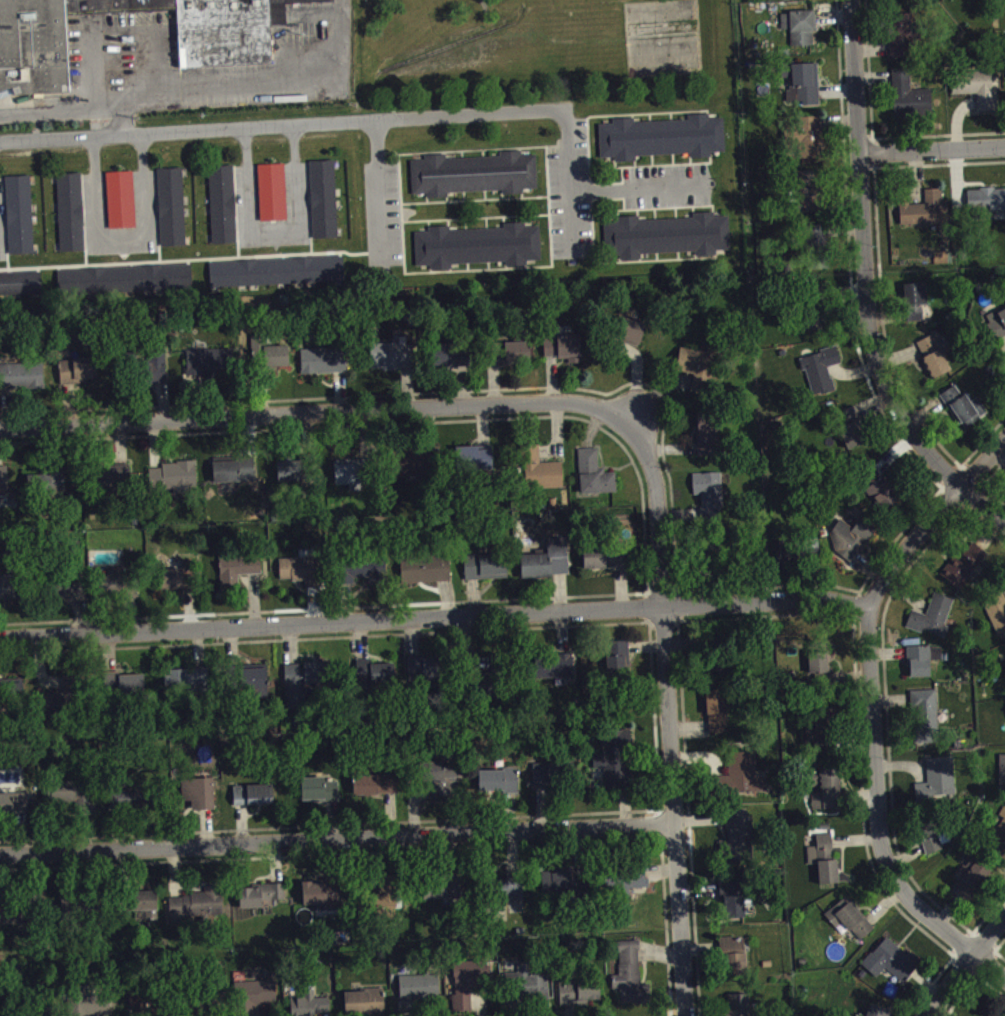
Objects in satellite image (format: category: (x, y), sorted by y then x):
building: (789, 0)
road: (97, 7)
road: (98, 21)
parking lot: (318, 37)
building: (903, 41)
building: (223, 46)
parking lot: (110, 50)
road: (203, 79)
building: (804, 88)
building: (978, 93)
parking lot: (243, 98)
building: (911, 101)
road: (122, 118)
road: (282, 125)
building: (660, 136)
building: (811, 143)
road: (934, 154)
building: (472, 172)
road: (568, 179)
parking lot: (666, 185)
road: (377, 186)
road: (634, 186)
parking lot: (295, 191)
parking lot: (569, 191)
building: (321, 197)
building: (810, 197)
parking lot: (144, 198)
building: (274, 198)
building: (221, 202)
building: (122, 205)
building: (169, 205)
building: (987, 206)
building: (69, 209)
parking lot: (381, 212)
building: (17, 213)
building: (927, 215)
parking lot: (1, 223)
road: (272, 225)
road: (120, 234)
building: (664, 234)
building: (475, 245)
building: (942, 263)
building: (275, 270)
building: (123, 278)
building: (19, 282)
road: (869, 285)
building: (915, 308)
building: (812, 326)
building: (996, 327)
building: (630, 336)
building: (930, 350)
building: (564, 353)
building: (512, 357)
building: (272, 362)
building: (393, 362)
building: (451, 362)
building: (211, 367)
building: (325, 367)
building: (937, 370)
building: (157, 374)
building: (698, 374)
building: (80, 376)
building: (822, 377)
building: (22, 382)
road: (319, 412)
building: (965, 413)
building: (852, 434)
building: (709, 440)
building: (475, 464)
building: (414, 468)
building: (235, 475)
building: (541, 475)
building: (291, 478)
building: (351, 479)
building: (596, 480)
building: (175, 483)
building: (4, 485)
building: (116, 485)
building: (880, 494)
building: (710, 501)
building: (0, 512)
road: (935, 524)
building: (851, 544)
building: (812, 556)
building: (788, 560)
building: (608, 562)
building: (549, 566)
building: (487, 572)
building: (965, 572)
building: (366, 575)
building: (427, 575)
building: (239, 576)
building: (303, 576)
building: (177, 583)
building: (115, 586)
building: (11, 593)
building: (72, 593)
building: (997, 616)
road: (434, 621)
building: (934, 623)
building: (619, 665)
building: (923, 666)
building: (822, 668)
building: (561, 671)
building: (429, 678)
building: (375, 681)
building: (256, 686)
building: (189, 687)
building: (304, 687)
building: (126, 689)
building: (56, 709)
road: (670, 716)
building: (718, 717)
building: (926, 722)
building: (824, 738)
building: (616, 764)
building: (1003, 779)
building: (545, 781)
building: (744, 781)
building: (444, 784)
building: (939, 785)
building: (493, 787)
building: (514, 787)
building: (377, 790)
building: (827, 794)
building: (320, 795)
building: (200, 800)
building: (75, 801)
building: (254, 801)
building: (131, 804)
building: (15, 809)
road: (877, 823)
building: (999, 840)
road: (339, 841)
building: (740, 841)
building: (934, 842)
building: (825, 865)
building: (633, 886)
building: (971, 886)
building: (558, 887)
building: (442, 892)
building: (515, 893)
building: (325, 900)
building: (262, 901)
building: (733, 906)
building: (76, 908)
building: (146, 909)
building: (199, 910)
building: (18, 922)
building: (850, 924)
building: (735, 962)
building: (893, 967)
road: (968, 969)
building: (632, 981)
building: (467, 988)
building: (419, 993)
building: (534, 993)
building: (581, 997)
building: (94, 1004)
building: (366, 1006)
building: (312, 1008)
building: (740, 1008)
building: (876, 1014)

